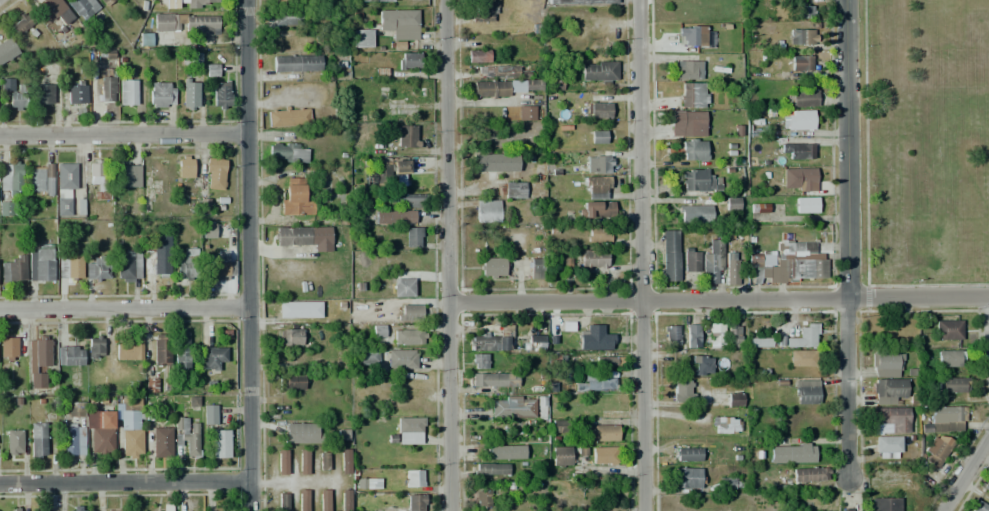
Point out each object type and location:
building: (373, 0)
building: (291, 1)
building: (106, 2)
building: (581, 2)
building: (200, 3)
building: (172, 4)
building: (82, 7)
building: (49, 9)
building: (804, 10)
building: (482, 11)
building: (287, 17)
building: (165, 22)
building: (22, 23)
building: (399, 23)
building: (201, 26)
building: (691, 36)
building: (801, 37)
building: (362, 38)
building: (145, 39)
building: (6, 49)
building: (477, 56)
building: (190, 58)
building: (409, 60)
building: (296, 63)
building: (800, 63)
building: (211, 70)
building: (687, 70)
building: (511, 71)
building: (597, 71)
building: (106, 75)
building: (555, 82)
building: (504, 87)
building: (76, 92)
building: (127, 92)
building: (44, 94)
building: (161, 94)
building: (190, 94)
building: (221, 94)
building: (693, 95)
building: (19, 98)
building: (802, 98)
building: (598, 109)
building: (525, 113)
building: (288, 117)
building: (797, 120)
building: (688, 122)
road: (122, 130)
building: (406, 136)
building: (597, 137)
building: (693, 150)
building: (798, 150)
building: (287, 152)
building: (492, 162)
building: (601, 164)
building: (184, 166)
building: (214, 172)
building: (391, 173)
building: (127, 175)
building: (11, 177)
building: (40, 179)
building: (798, 179)
building: (100, 180)
building: (698, 180)
building: (597, 186)
building: (64, 187)
building: (510, 190)
building: (295, 199)
building: (405, 200)
building: (731, 203)
building: (805, 205)
building: (6, 208)
building: (761, 208)
building: (596, 210)
building: (487, 211)
building: (693, 213)
building: (394, 216)
building: (207, 230)
building: (597, 233)
building: (304, 237)
building: (411, 237)
road: (846, 241)
road: (247, 255)
road: (449, 255)
road: (640, 255)
building: (669, 255)
building: (593, 258)
building: (156, 260)
building: (689, 261)
building: (799, 262)
building: (565, 263)
building: (187, 264)
building: (712, 264)
building: (40, 265)
building: (218, 265)
building: (69, 266)
building: (127, 266)
building: (762, 266)
building: (96, 267)
building: (493, 267)
building: (535, 268)
building: (730, 268)
building: (13, 270)
building: (403, 287)
road: (719, 302)
road: (124, 308)
building: (296, 310)
building: (409, 313)
building: (948, 329)
building: (398, 335)
building: (670, 335)
building: (692, 335)
building: (715, 335)
building: (733, 335)
building: (291, 336)
building: (803, 336)
building: (595, 338)
building: (483, 341)
building: (504, 341)
building: (533, 342)
building: (758, 342)
building: (13, 347)
building: (95, 347)
building: (160, 349)
building: (128, 350)
building: (181, 353)
building: (69, 355)
building: (365, 356)
building: (214, 358)
building: (555, 358)
building: (799, 358)
building: (950, 358)
building: (36, 359)
building: (401, 359)
building: (479, 361)
building: (607, 361)
building: (701, 365)
building: (886, 365)
building: (492, 379)
building: (291, 382)
building: (594, 382)
building: (952, 384)
building: (150, 385)
building: (889, 387)
building: (682, 391)
building: (805, 392)
building: (734, 399)
building: (74, 409)
building: (512, 409)
building: (540, 409)
building: (130, 413)
building: (209, 414)
building: (99, 417)
building: (945, 419)
building: (890, 421)
building: (728, 425)
building: (559, 426)
building: (409, 429)
building: (301, 432)
building: (601, 432)
building: (186, 434)
building: (37, 440)
building: (73, 440)
building: (102, 441)
building: (14, 442)
building: (161, 442)
building: (131, 443)
building: (220, 443)
building: (887, 444)
building: (936, 451)
building: (500, 452)
building: (792, 453)
building: (563, 454)
building: (687, 454)
building: (603, 455)
building: (323, 461)
building: (344, 461)
building: (282, 462)
building: (303, 462)
building: (490, 469)
building: (810, 474)
road: (964, 474)
building: (413, 478)
building: (686, 478)
road: (123, 481)
building: (367, 483)
building: (729, 483)
building: (988, 486)
building: (988, 488)
building: (482, 498)
building: (303, 500)
building: (324, 500)
building: (283, 502)
building: (345, 502)
building: (415, 502)
building: (884, 504)
building: (978, 506)
building: (164, 507)
building: (75, 508)
building: (16, 509)
building: (120, 510)
building: (849, 510)

